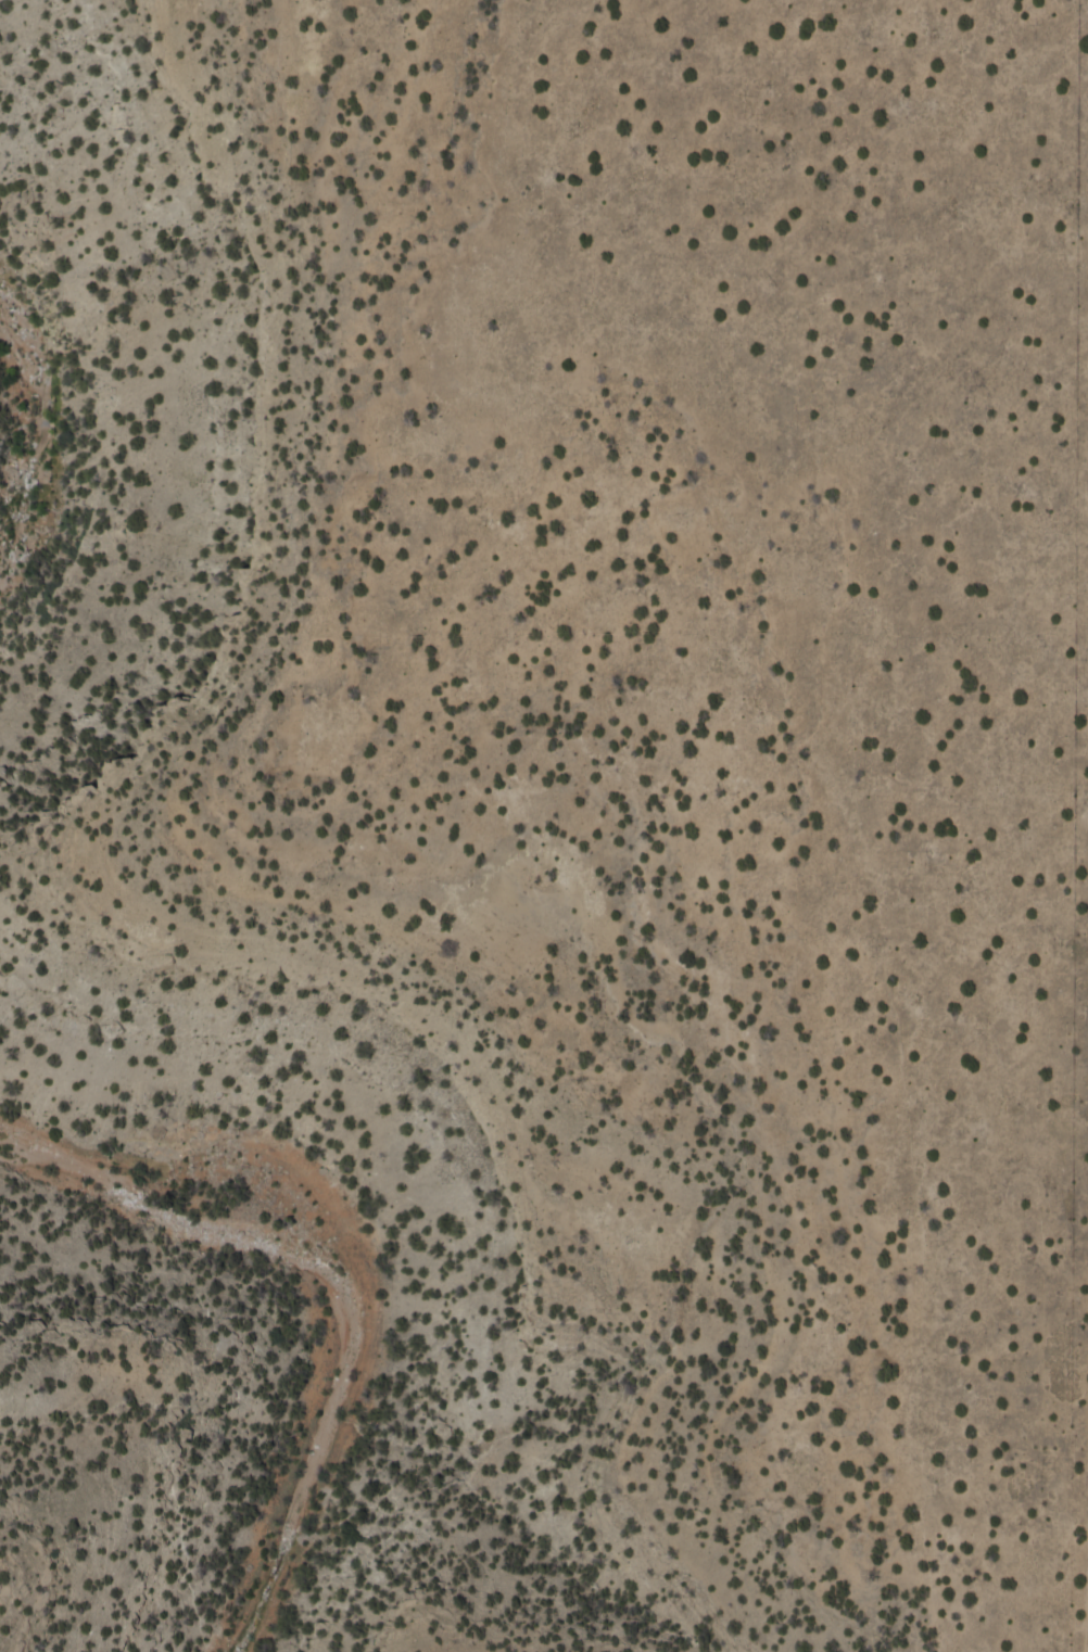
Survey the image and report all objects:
road: (1087, 1512)

